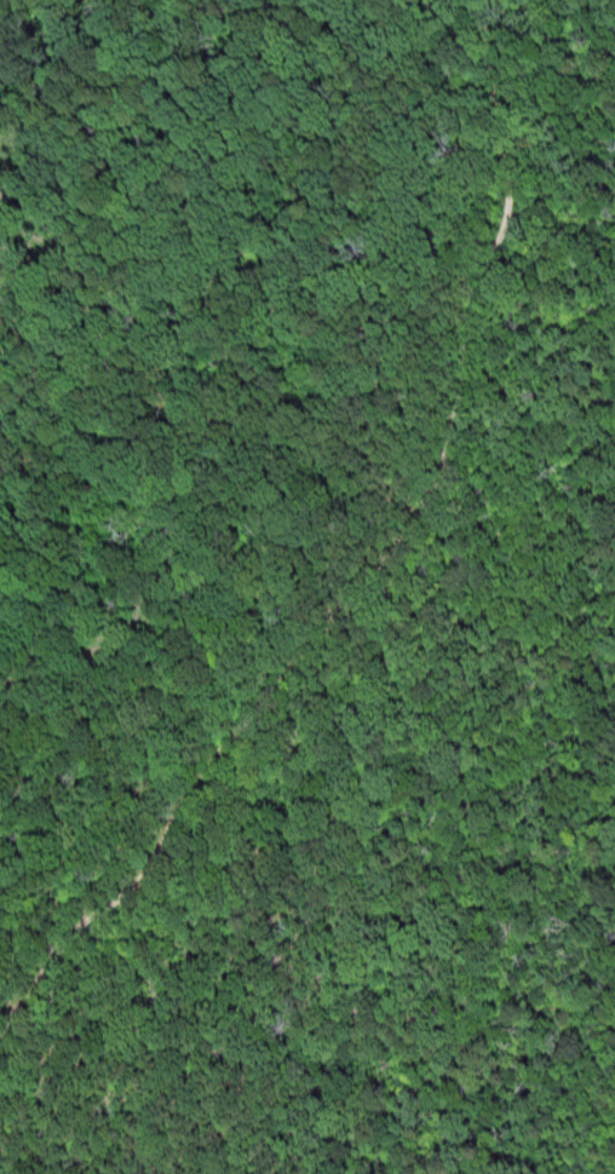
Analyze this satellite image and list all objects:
road: (345, 541)

